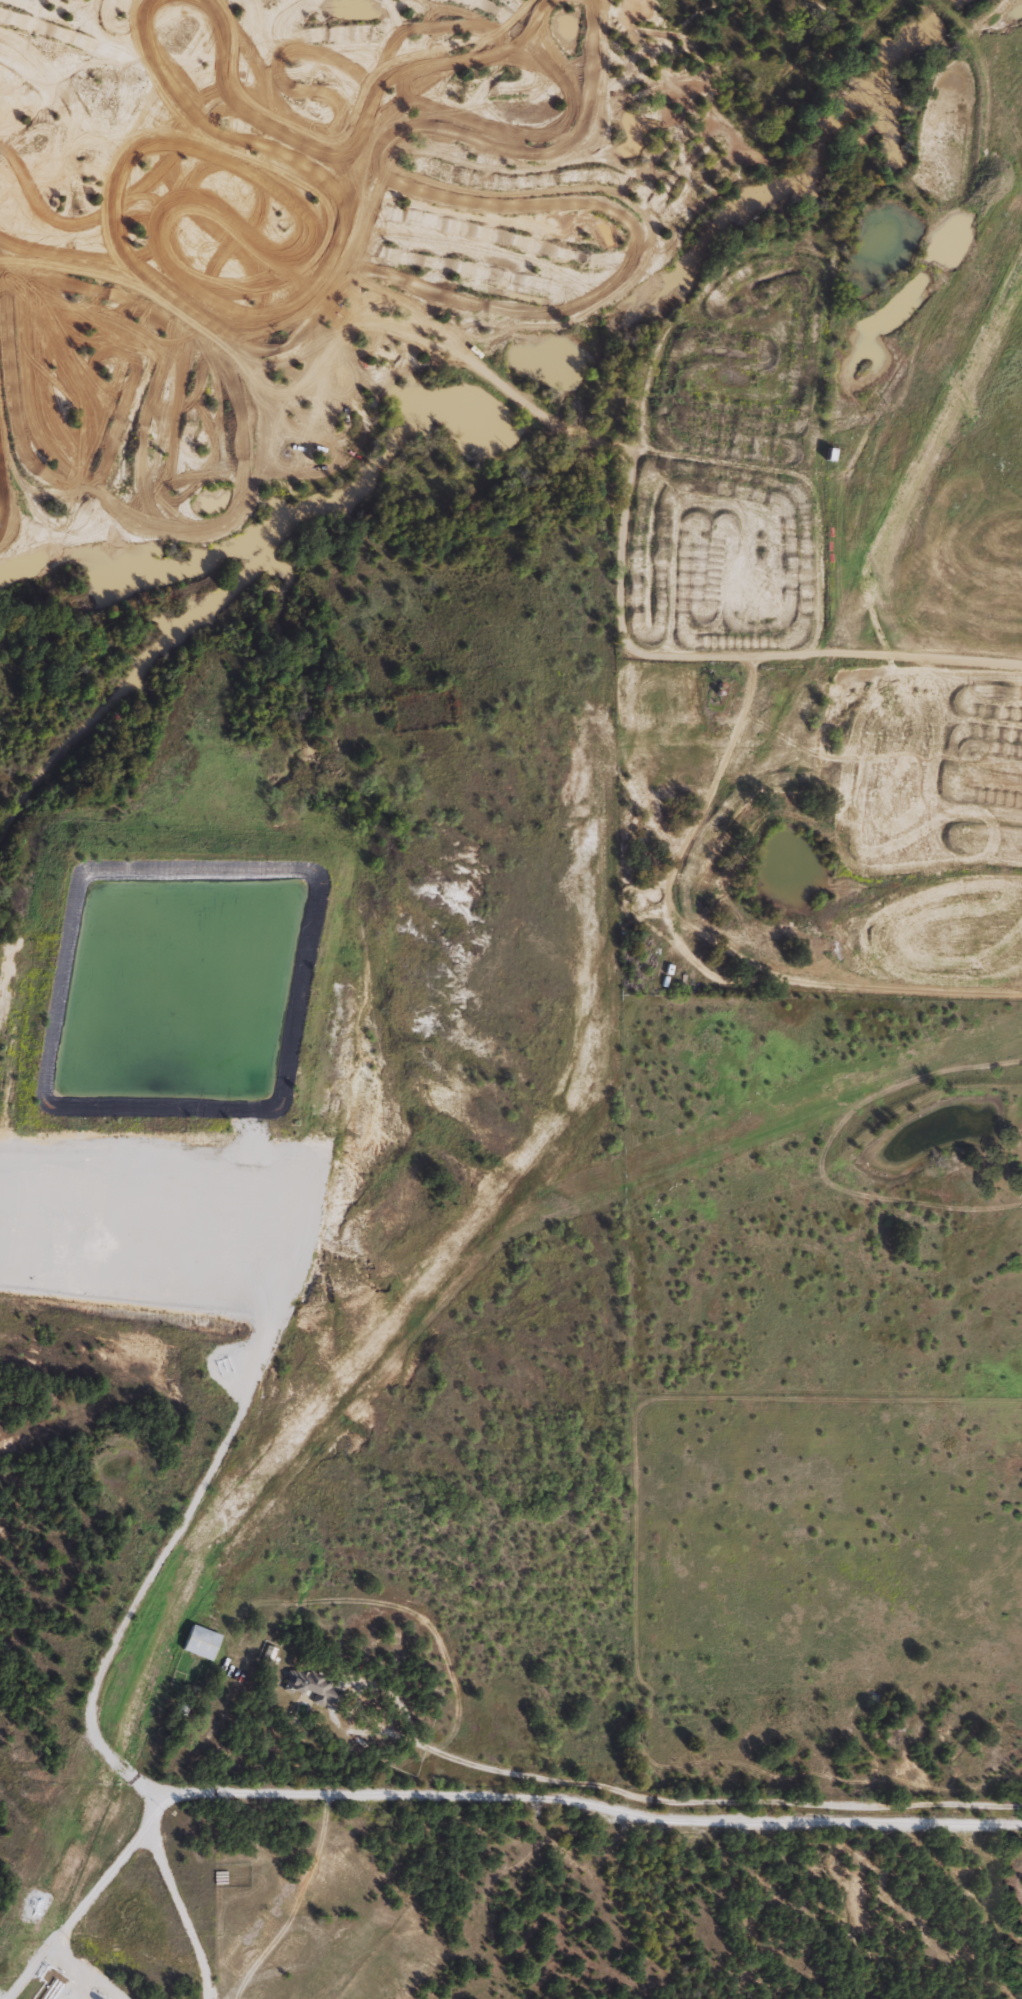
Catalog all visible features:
road: (625, 641)
building: (200, 1642)
building: (308, 1684)
road: (665, 1802)
road: (576, 1804)
road: (189, 1909)
road: (79, 1915)
road: (35, 1967)

